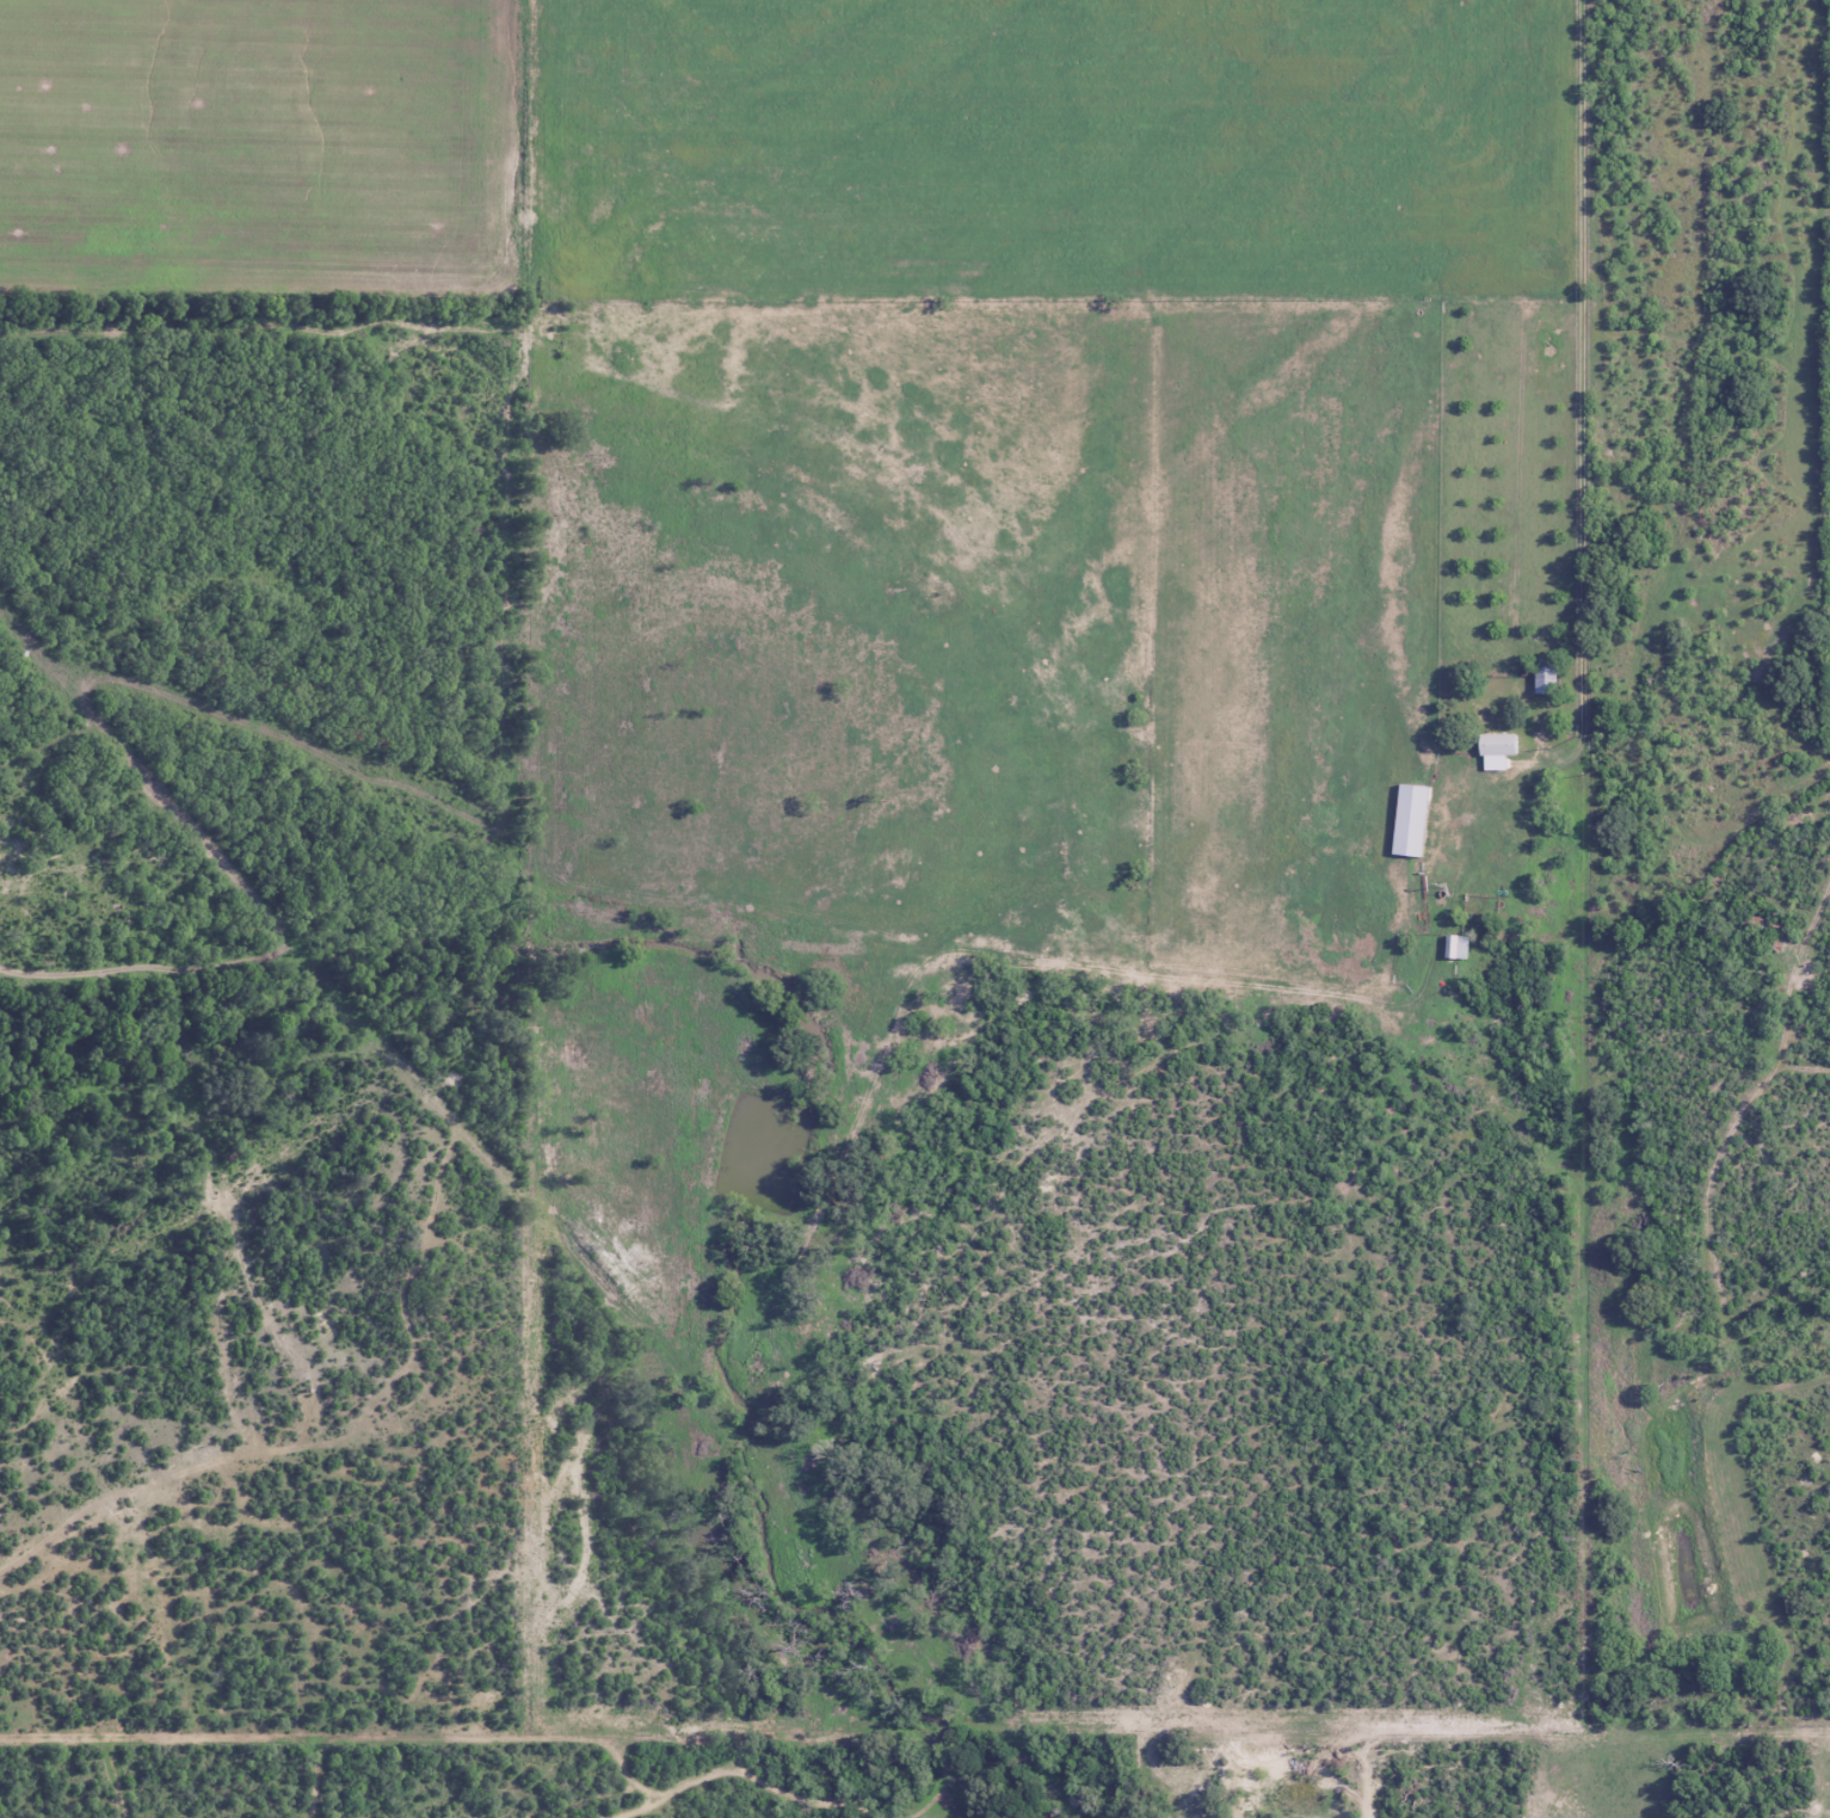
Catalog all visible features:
road: (1581, 398)
building: (1548, 676)
building: (1501, 744)
building: (1459, 947)

